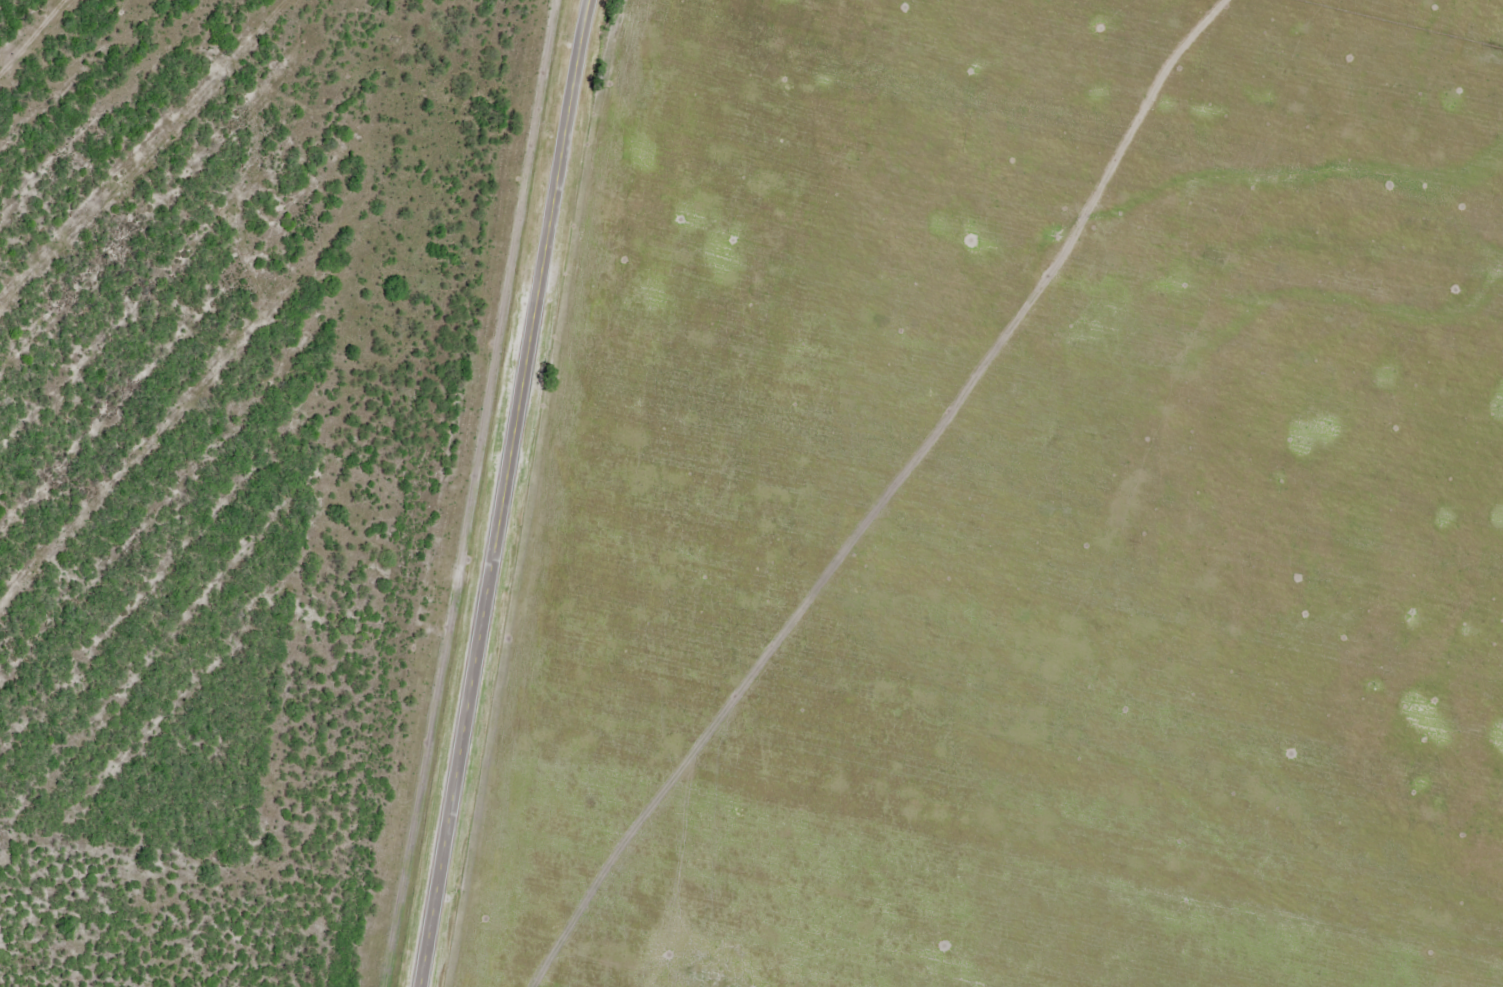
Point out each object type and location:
road: (500, 492)

